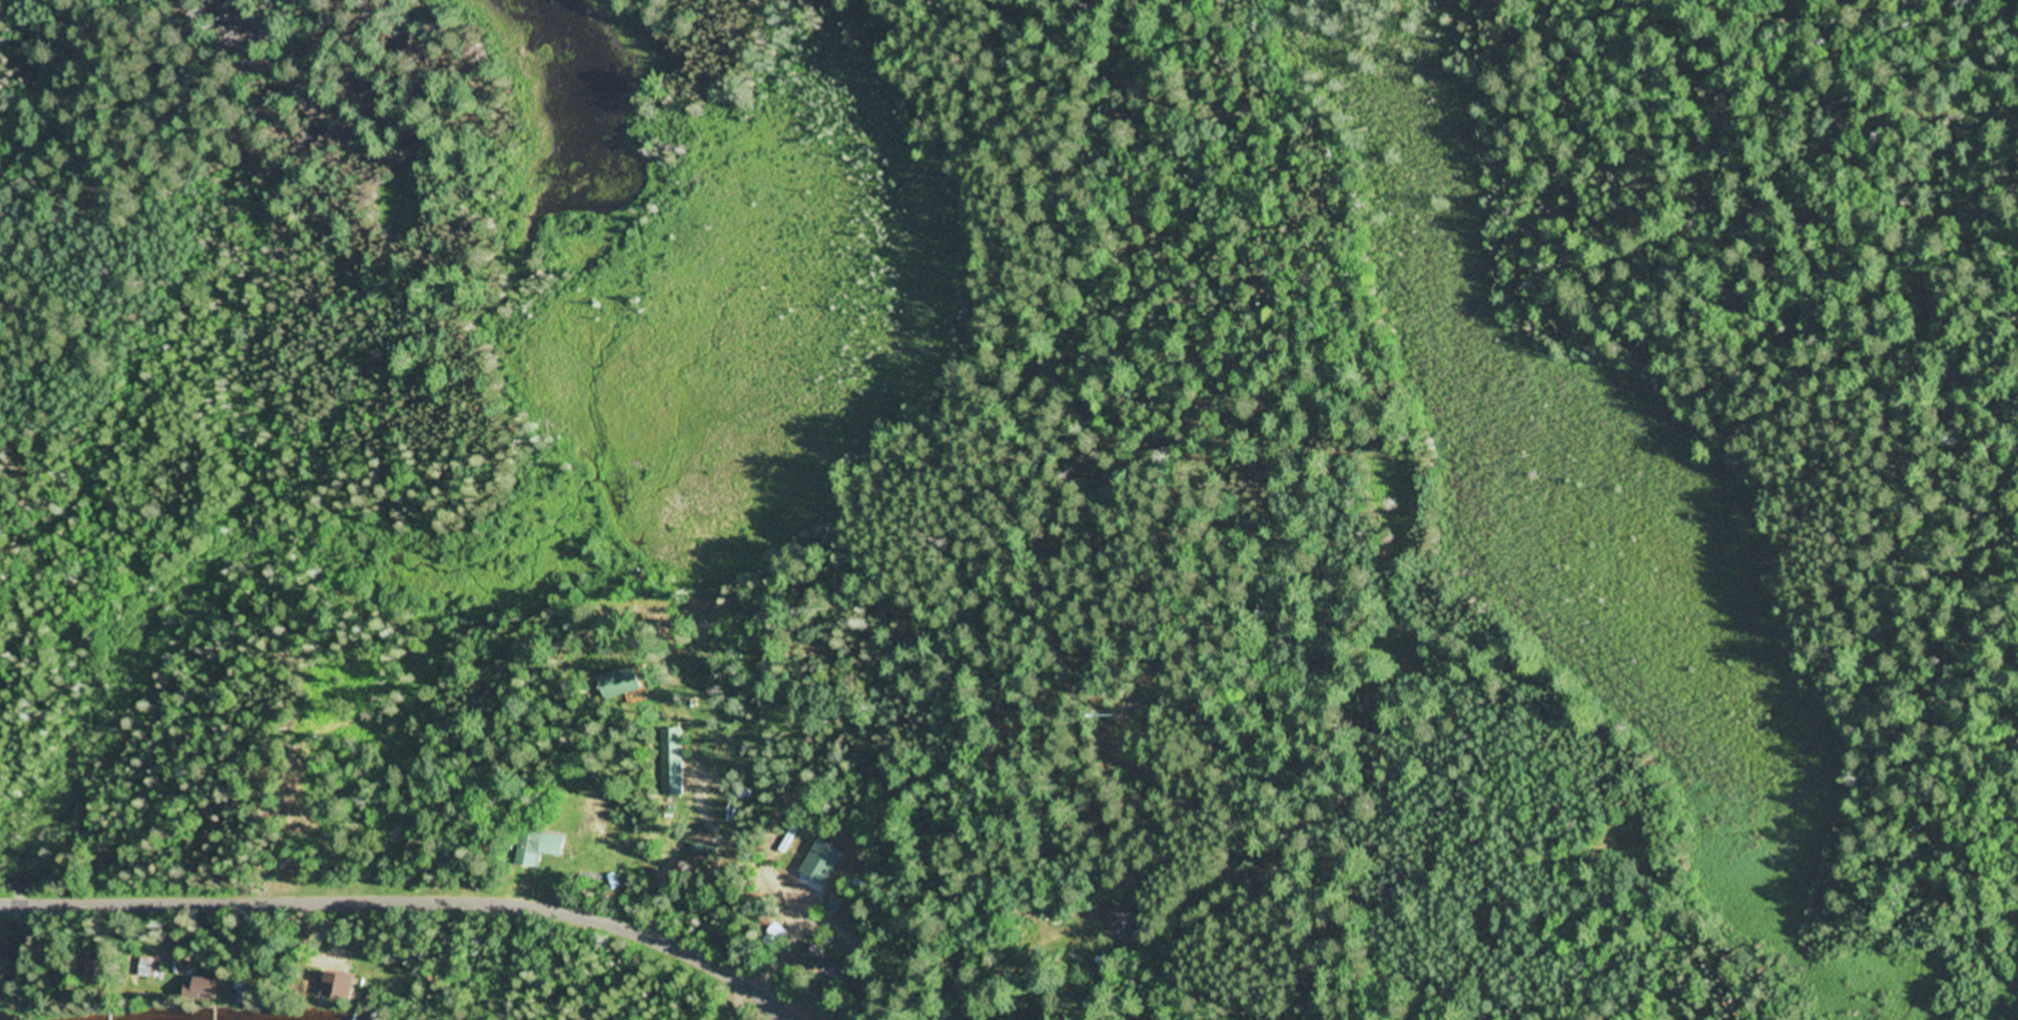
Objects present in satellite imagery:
building: (629, 682)
building: (675, 741)
building: (405, 834)
building: (537, 847)
building: (109, 851)
road: (408, 903)
building: (834, 905)
building: (1116, 922)
building: (777, 932)
building: (833, 961)
building: (147, 965)
building: (97, 969)
building: (64, 980)
building: (339, 986)
building: (199, 989)
building: (241, 991)
building: (368, 995)

